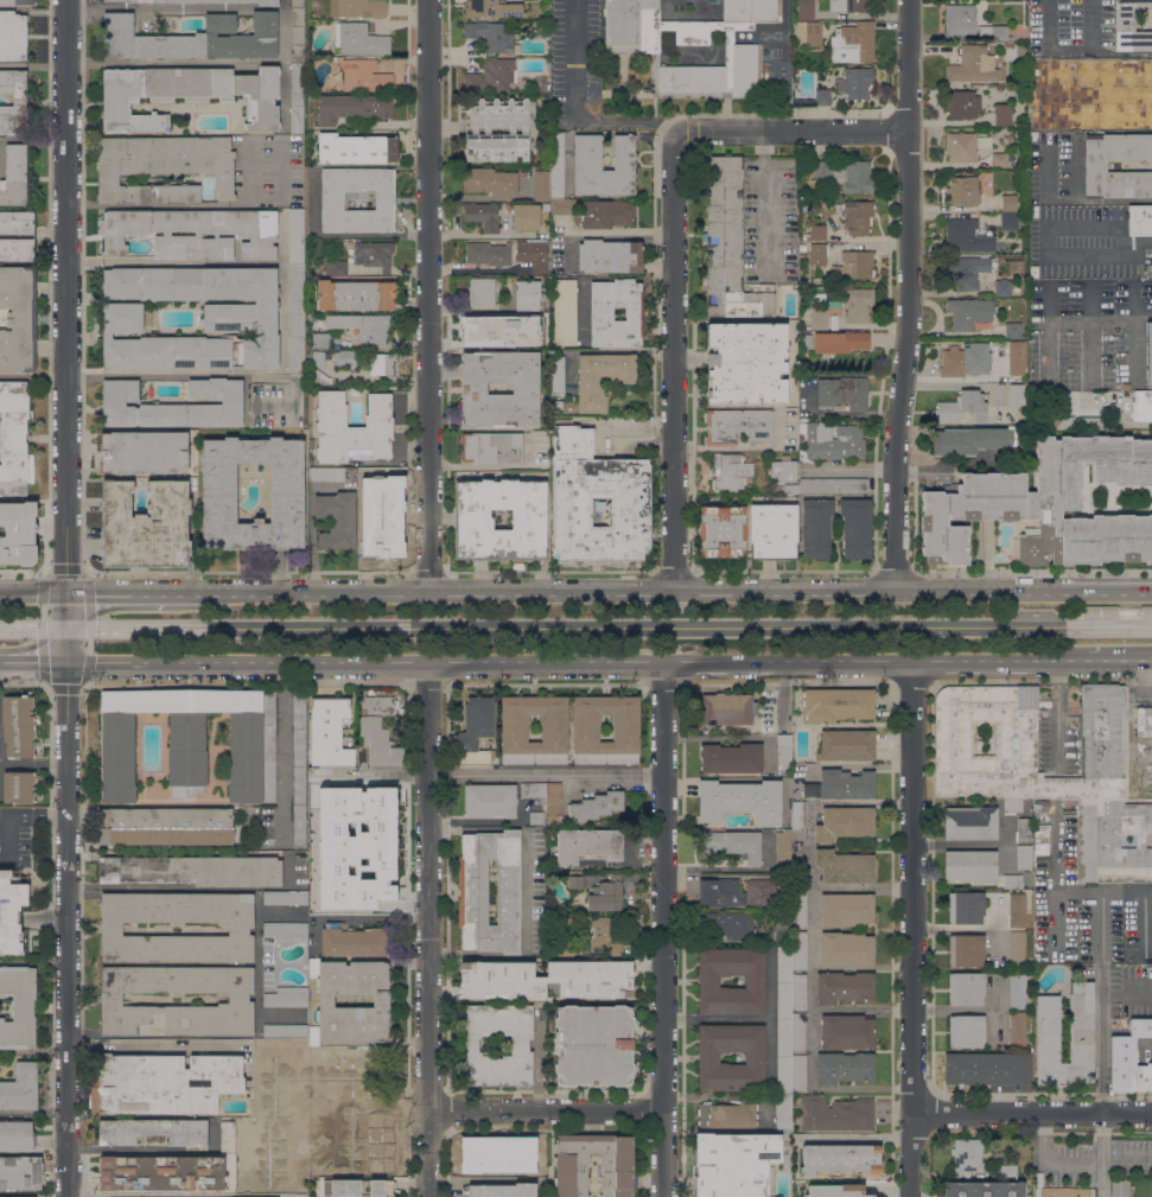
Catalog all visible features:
building: (17, 1)
building: (204, 1)
building: (297, 4)
building: (848, 5)
road: (195, 6)
road: (82, 8)
building: (357, 8)
building: (492, 8)
building: (806, 9)
building: (970, 23)
building: (1129, 27)
building: (795, 31)
building: (540, 32)
building: (813, 33)
building: (13, 36)
building: (297, 36)
building: (491, 36)
building: (192, 38)
building: (359, 39)
building: (853, 43)
road: (1049, 47)
building: (631, 49)
building: (1020, 49)
road: (1095, 53)
road: (221, 61)
building: (973, 64)
road: (83, 65)
building: (1140, 71)
building: (364, 76)
building: (492, 76)
building: (540, 83)
building: (795, 83)
building: (855, 83)
road: (284, 93)
building: (187, 94)
building: (822, 97)
building: (297, 98)
building: (796, 101)
building: (13, 102)
building: (962, 104)
building: (311, 106)
building: (352, 107)
building: (1145, 108)
road: (574, 109)
building: (1003, 115)
building: (477, 129)
road: (790, 134)
building: (960, 146)
building: (356, 148)
building: (999, 159)
building: (587, 161)
building: (1095, 165)
building: (163, 166)
building: (556, 166)
building: (846, 174)
building: (14, 176)
building: (489, 182)
building: (541, 185)
building: (965, 190)
building: (332, 199)
road: (764, 200)
building: (1008, 203)
building: (804, 205)
building: (546, 206)
building: (562, 206)
building: (1033, 211)
building: (606, 214)
building: (482, 215)
building: (524, 216)
building: (858, 216)
building: (1139, 219)
building: (1008, 221)
building: (192, 233)
building: (817, 233)
building: (297, 235)
building: (963, 235)
building: (15, 236)
building: (806, 236)
road: (1139, 241)
building: (728, 246)
building: (806, 248)
building: (374, 254)
building: (489, 254)
building: (534, 254)
building: (609, 256)
building: (821, 259)
road: (197, 262)
building: (857, 265)
building: (336, 268)
building: (966, 270)
building: (1033, 272)
building: (1003, 287)
building: (482, 292)
building: (527, 294)
road: (64, 295)
building: (355, 295)
road: (428, 295)
road: (906, 295)
road: (1135, 299)
building: (857, 305)
building: (565, 312)
building: (968, 312)
building: (240, 314)
building: (602, 314)
building: (297, 318)
building: (819, 318)
building: (18, 319)
building: (362, 325)
road: (1091, 325)
building: (497, 330)
building: (1013, 331)
building: (804, 332)
road: (1049, 335)
road: (1091, 336)
road: (1135, 338)
building: (320, 340)
building: (840, 342)
building: (1148, 354)
building: (345, 357)
building: (1017, 357)
building: (319, 358)
building: (965, 359)
road: (675, 362)
building: (381, 363)
building: (746, 363)
road: (193, 373)
building: (556, 376)
building: (599, 380)
building: (1126, 387)
building: (499, 389)
building: (842, 393)
building: (1016, 396)
building: (13, 405)
building: (172, 405)
building: (1141, 406)
building: (961, 407)
building: (1077, 420)
building: (737, 426)
building: (352, 428)
road: (630, 428)
building: (1023, 428)
building: (1021, 435)
building: (970, 440)
building: (832, 441)
building: (1021, 442)
building: (491, 447)
building: (144, 452)
building: (1023, 453)
building: (1023, 460)
building: (14, 463)
building: (731, 471)
building: (326, 473)
building: (810, 479)
building: (602, 480)
building: (219, 490)
building: (1048, 505)
building: (381, 517)
building: (337, 520)
building: (473, 523)
building: (145, 526)
building: (815, 528)
building: (855, 528)
building: (721, 531)
building: (772, 531)
building: (18, 533)
road: (46, 571)
road: (33, 592)
traffic signals: (66, 592)
road: (673, 592)
road: (131, 593)
building: (1090, 609)
building: (1108, 609)
building: (1146, 610)
road: (1113, 612)
road: (66, 626)
traffic signals: (66, 628)
road: (1120, 658)
road: (32, 661)
traffic signals: (65, 661)
road: (577, 661)
road: (1151, 669)
road: (282, 674)
building: (836, 703)
building: (727, 709)
building: (770, 715)
road: (1056, 715)
building: (1145, 725)
building: (18, 726)
building: (329, 731)
building: (378, 731)
building: (475, 732)
building: (514, 732)
building: (585, 732)
building: (191, 741)
building: (846, 745)
building: (784, 753)
building: (731, 758)
road: (284, 764)
building: (299, 770)
road: (490, 775)
building: (841, 785)
building: (1029, 785)
building: (19, 788)
building: (784, 790)
building: (535, 791)
building: (490, 800)
building: (554, 800)
building: (740, 800)
building: (376, 801)
building: (1012, 804)
building: (333, 807)
building: (594, 807)
building: (1039, 809)
road: (17, 814)
building: (798, 815)
building: (536, 817)
building: (845, 822)
building: (970, 822)
building: (164, 826)
building: (1024, 830)
building: (586, 845)
building: (732, 845)
building: (783, 851)
building: (1024, 858)
building: (970, 865)
building: (845, 866)
building: (192, 871)
building: (798, 876)
building: (575, 881)
building: (1012, 881)
road: (127, 886)
building: (355, 891)
building: (473, 891)
building: (720, 892)
building: (759, 892)
building: (606, 894)
building: (286, 898)
building: (800, 908)
building: (966, 908)
building: (11, 909)
building: (846, 909)
building: (1017, 910)
road: (354, 916)
building: (783, 922)
building: (730, 924)
road: (65, 928)
road: (427, 929)
road: (663, 929)
road: (910, 929)
building: (112, 931)
building: (286, 931)
building: (604, 934)
building: (566, 936)
building: (783, 937)
building: (355, 940)
building: (1017, 947)
building: (846, 948)
building: (966, 950)
building: (798, 951)
building: (546, 979)
building: (708, 981)
building: (784, 983)
building: (844, 987)
building: (966, 988)
building: (1018, 991)
building: (798, 992)
building: (286, 997)
building: (381, 1001)
building: (241, 1002)
building: (18, 1006)
road: (1101, 1021)
building: (1081, 1027)
building: (1018, 1029)
building: (966, 1030)
building: (285, 1031)
building: (798, 1031)
building: (847, 1031)
building: (274, 1042)
road: (147, 1045)
building: (520, 1045)
building: (593, 1045)
building: (298, 1046)
building: (350, 1052)
building: (708, 1057)
building: (784, 1057)
building: (1129, 1059)
building: (845, 1068)
building: (317, 1069)
building: (984, 1069)
building: (798, 1072)
building: (263, 1074)
building: (161, 1083)
building: (20, 1088)
building: (281, 1099)
building: (260, 1104)
road: (546, 1109)
road: (1031, 1110)
road: (32, 1112)
building: (784, 1112)
building: (834, 1112)
building: (727, 1114)
building: (155, 1132)
building: (17, 1135)
building: (227, 1135)
road: (153, 1147)
building: (268, 1153)
building: (967, 1155)
building: (486, 1157)
building: (361, 1158)
building: (616, 1159)
building: (841, 1160)
building: (736, 1164)
building: (530, 1165)
building: (1007, 1171)
building: (21, 1172)
building: (161, 1172)
building: (240, 1185)
building: (358, 1188)
building: (253, 1189)
building: (985, 1189)
building: (1120, 1189)
building: (502, 1190)
building: (857, 1190)
building: (300, 1195)
building: (15, 1196)

